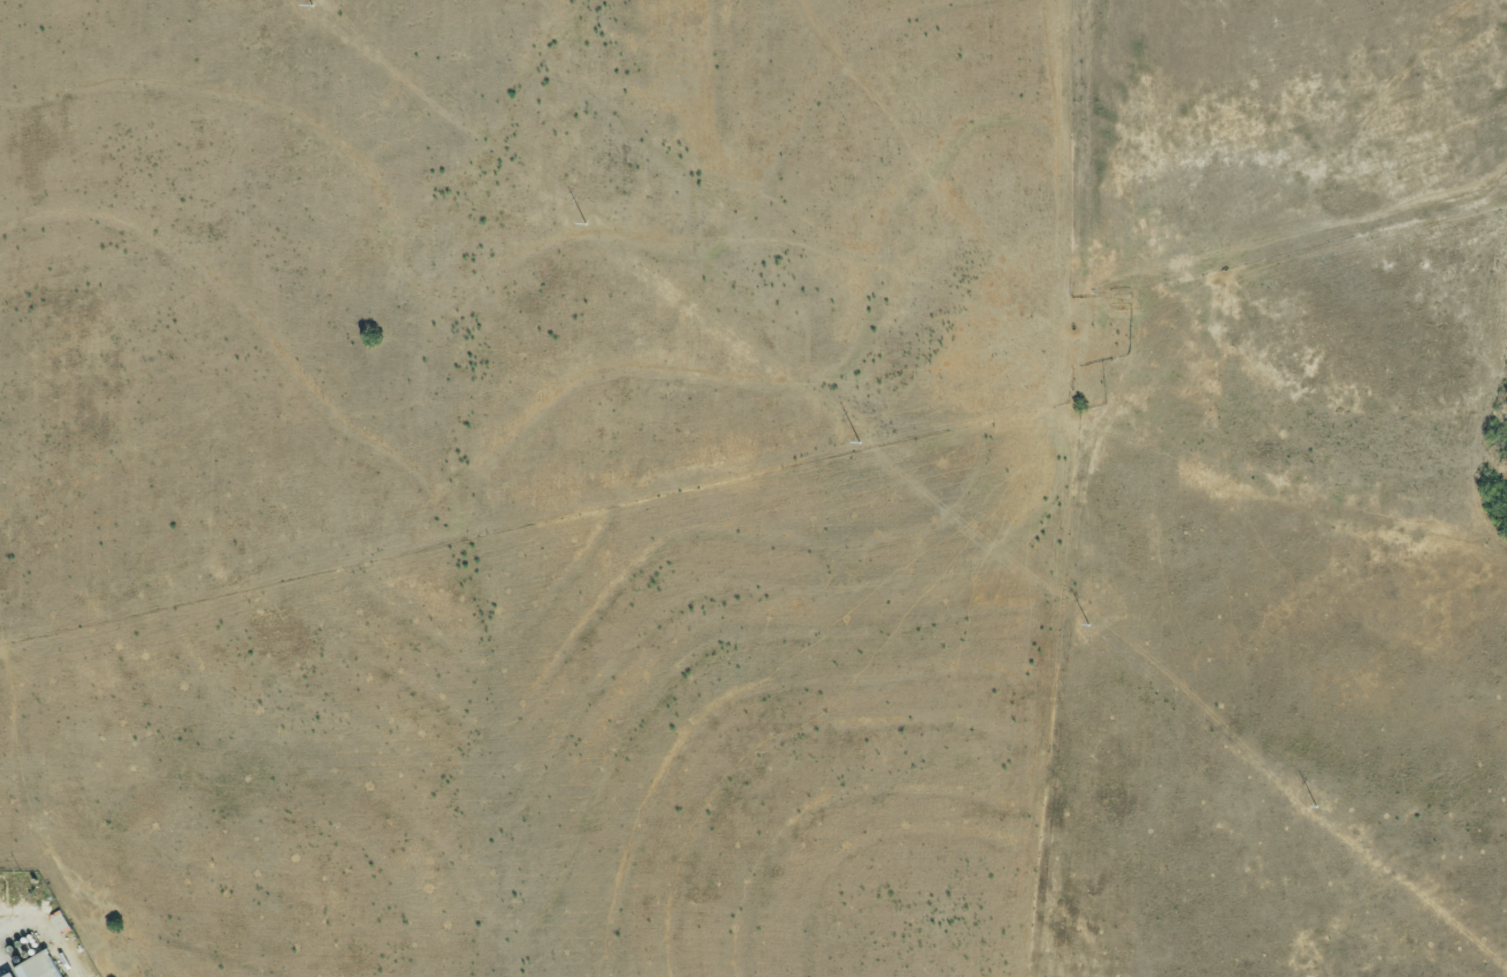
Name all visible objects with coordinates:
power tower: (304, 4)
power tower: (578, 219)
power tower: (852, 437)
power tower: (1083, 620)
power tower: (1313, 804)
building: (34, 968)
building: (5, 976)

